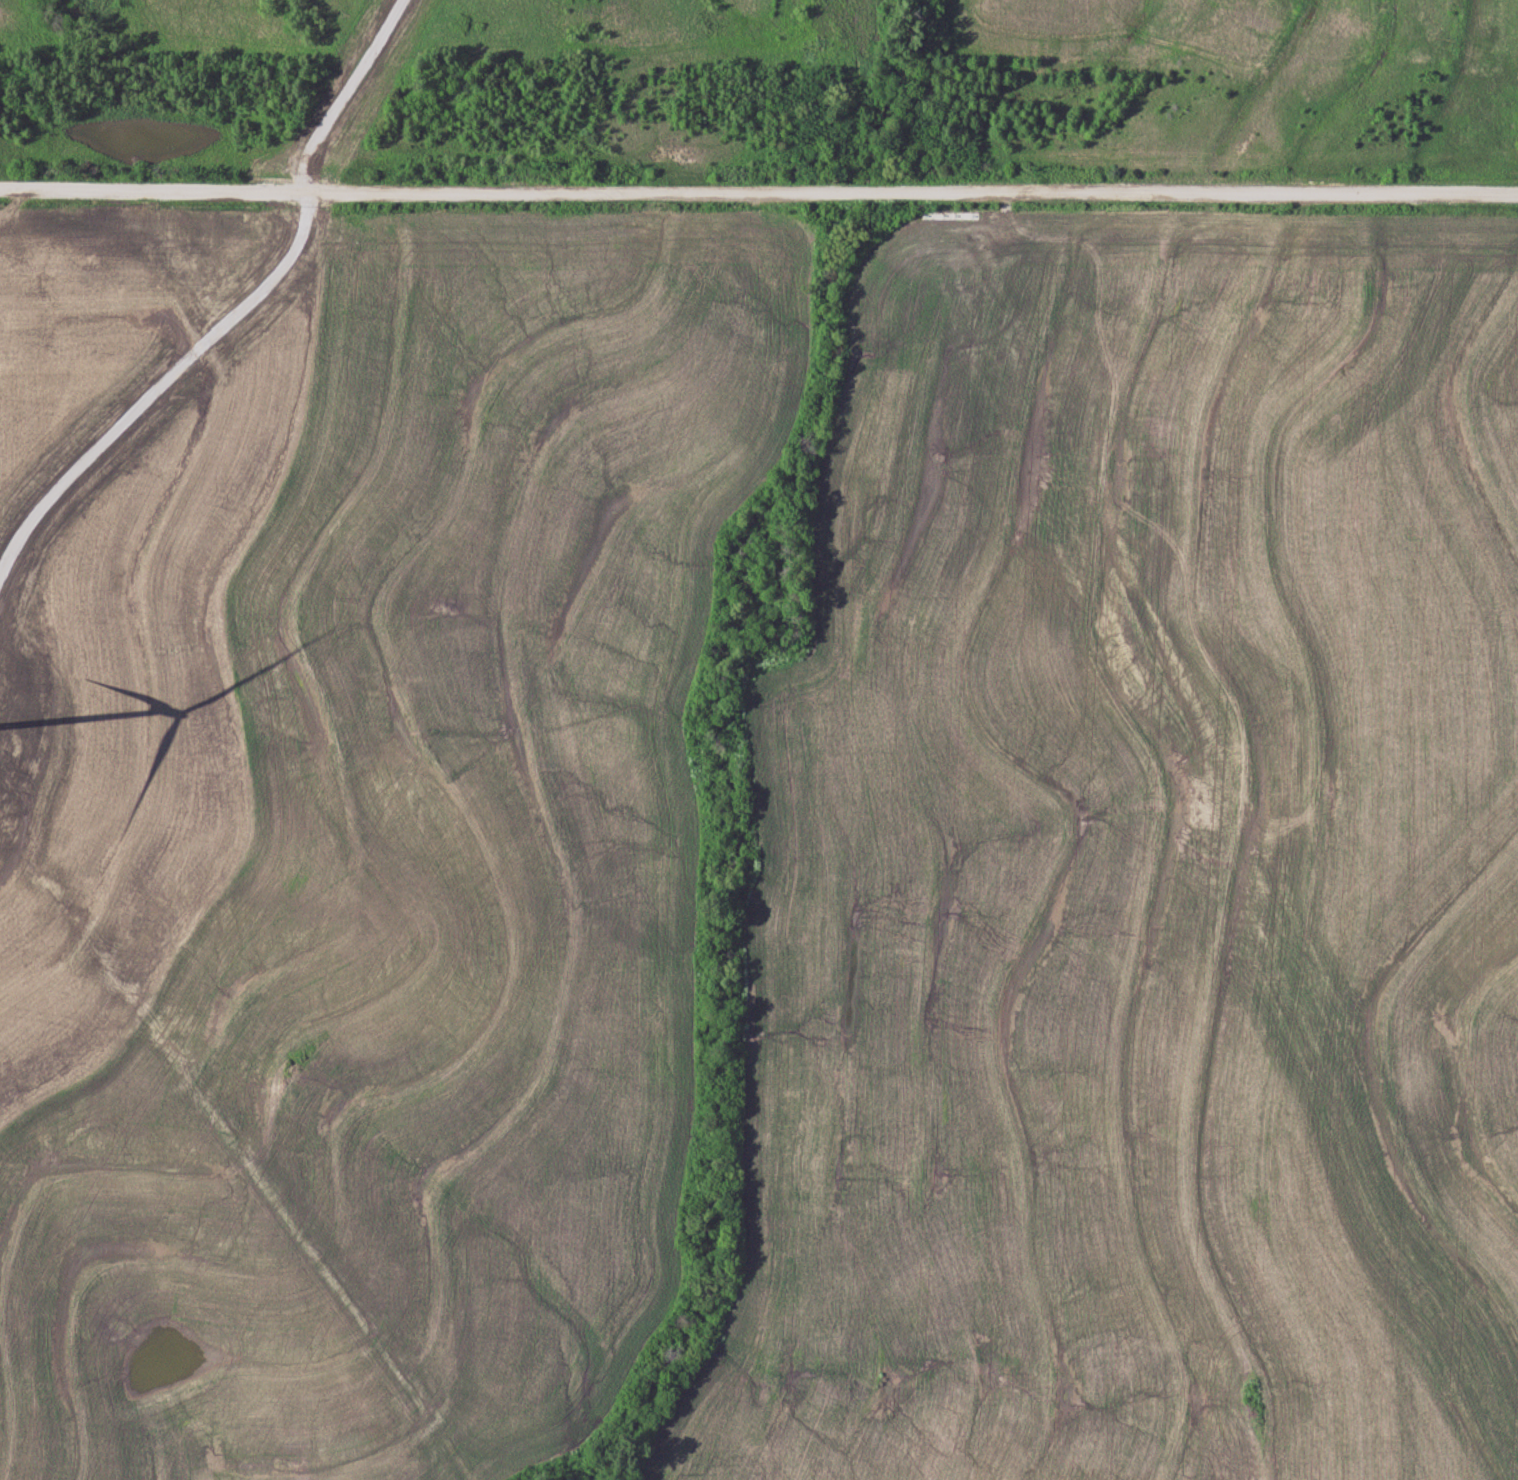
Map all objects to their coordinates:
road: (759, 188)

